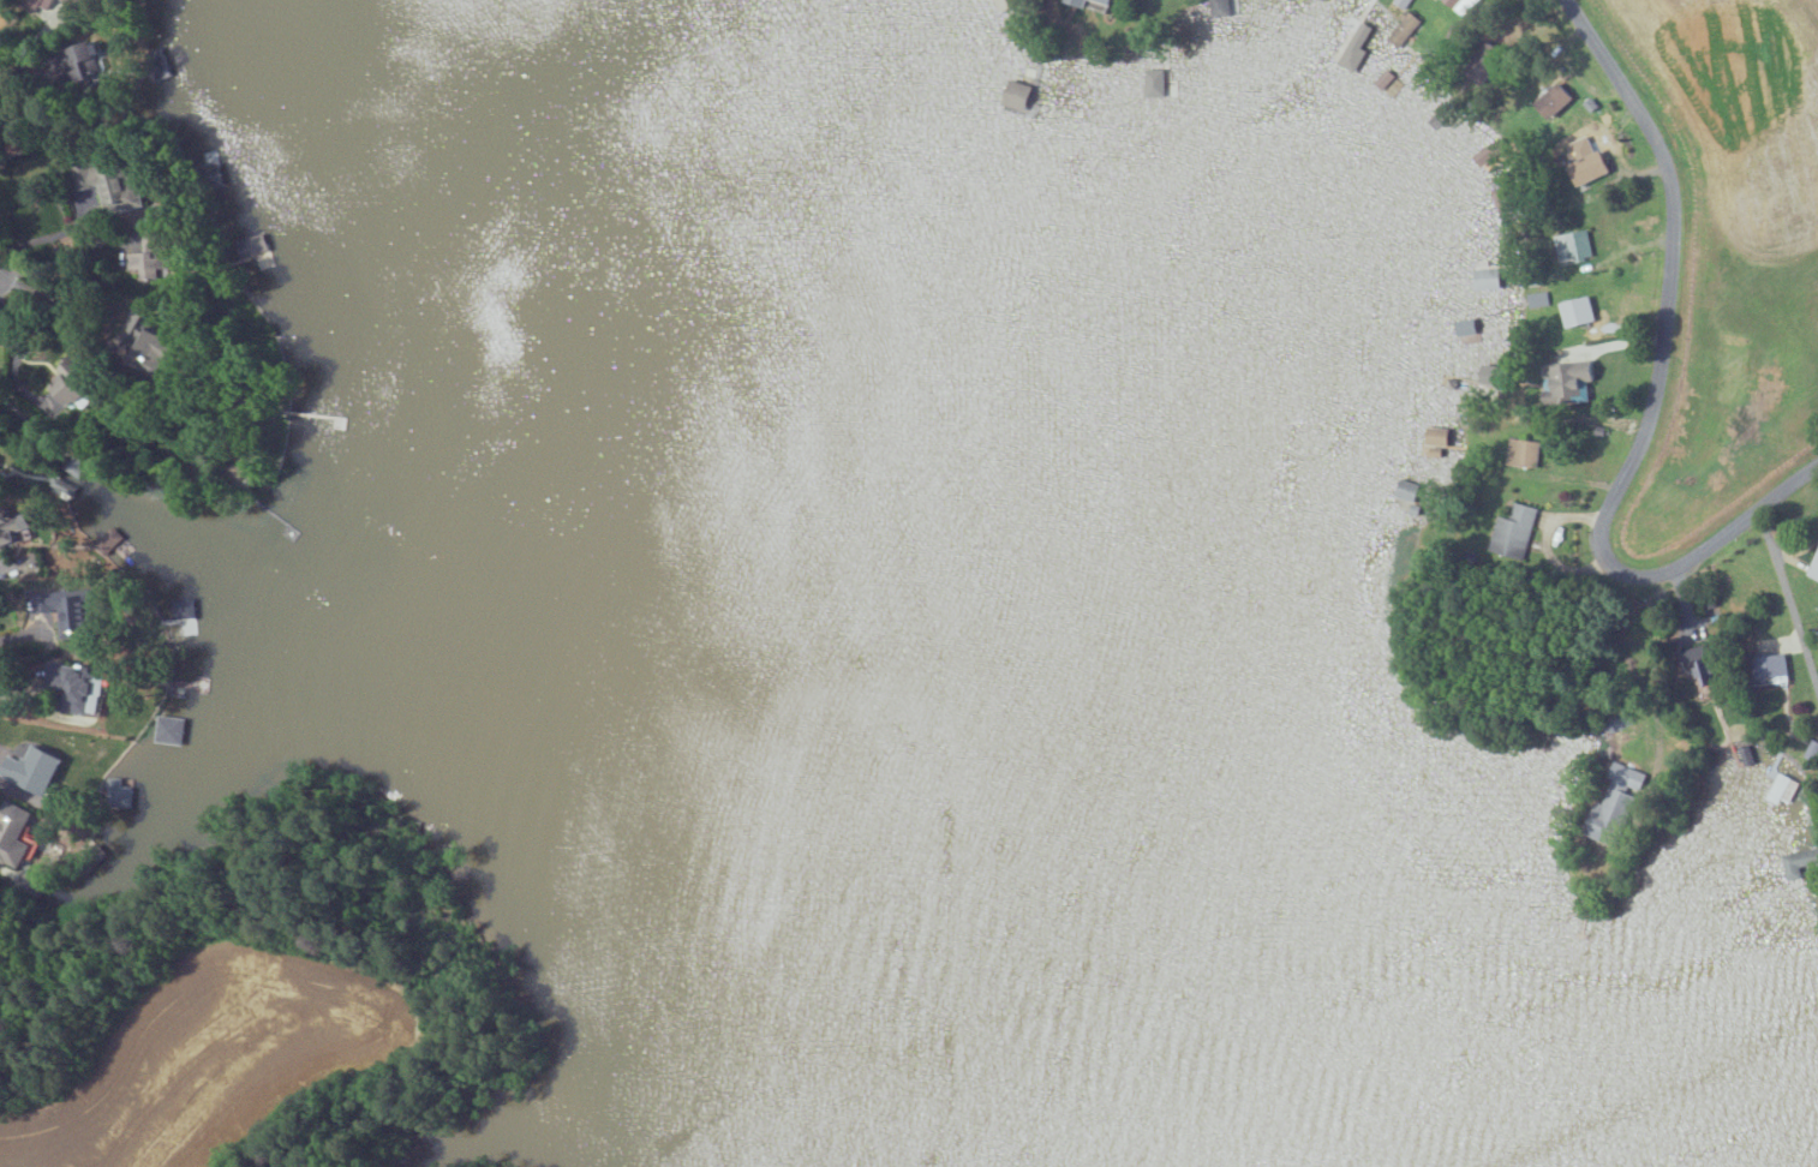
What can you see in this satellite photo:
building: (1322, 0)
building: (67, 1)
building: (1010, 1)
building: (1455, 2)
building: (36, 4)
building: (1094, 4)
building: (1401, 4)
building: (1222, 7)
building: (1404, 29)
building: (1352, 43)
building: (85, 65)
building: (1154, 82)
building: (1017, 94)
building: (1554, 100)
building: (1489, 152)
building: (1589, 168)
building: (107, 187)
building: (1503, 197)
road: (50, 235)
building: (1573, 245)
building: (251, 246)
building: (145, 263)
building: (1487, 279)
building: (1537, 299)
building: (1578, 311)
building: (146, 352)
building: (1448, 381)
building: (1568, 381)
building: (71, 387)
road: (1652, 395)
building: (1437, 436)
building: (1521, 453)
building: (68, 475)
building: (1406, 490)
building: (11, 528)
building: (1513, 532)
building: (107, 540)
building: (1813, 568)
road: (1789, 597)
building: (65, 611)
road: (25, 634)
building: (1700, 665)
building: (1770, 669)
building: (74, 688)
road: (20, 693)
building: (169, 730)
building: (1812, 750)
building: (1746, 755)
building: (37, 771)
road: (8, 786)
building: (1782, 789)
building: (119, 792)
building: (1615, 804)
building: (13, 831)
building: (1798, 862)

